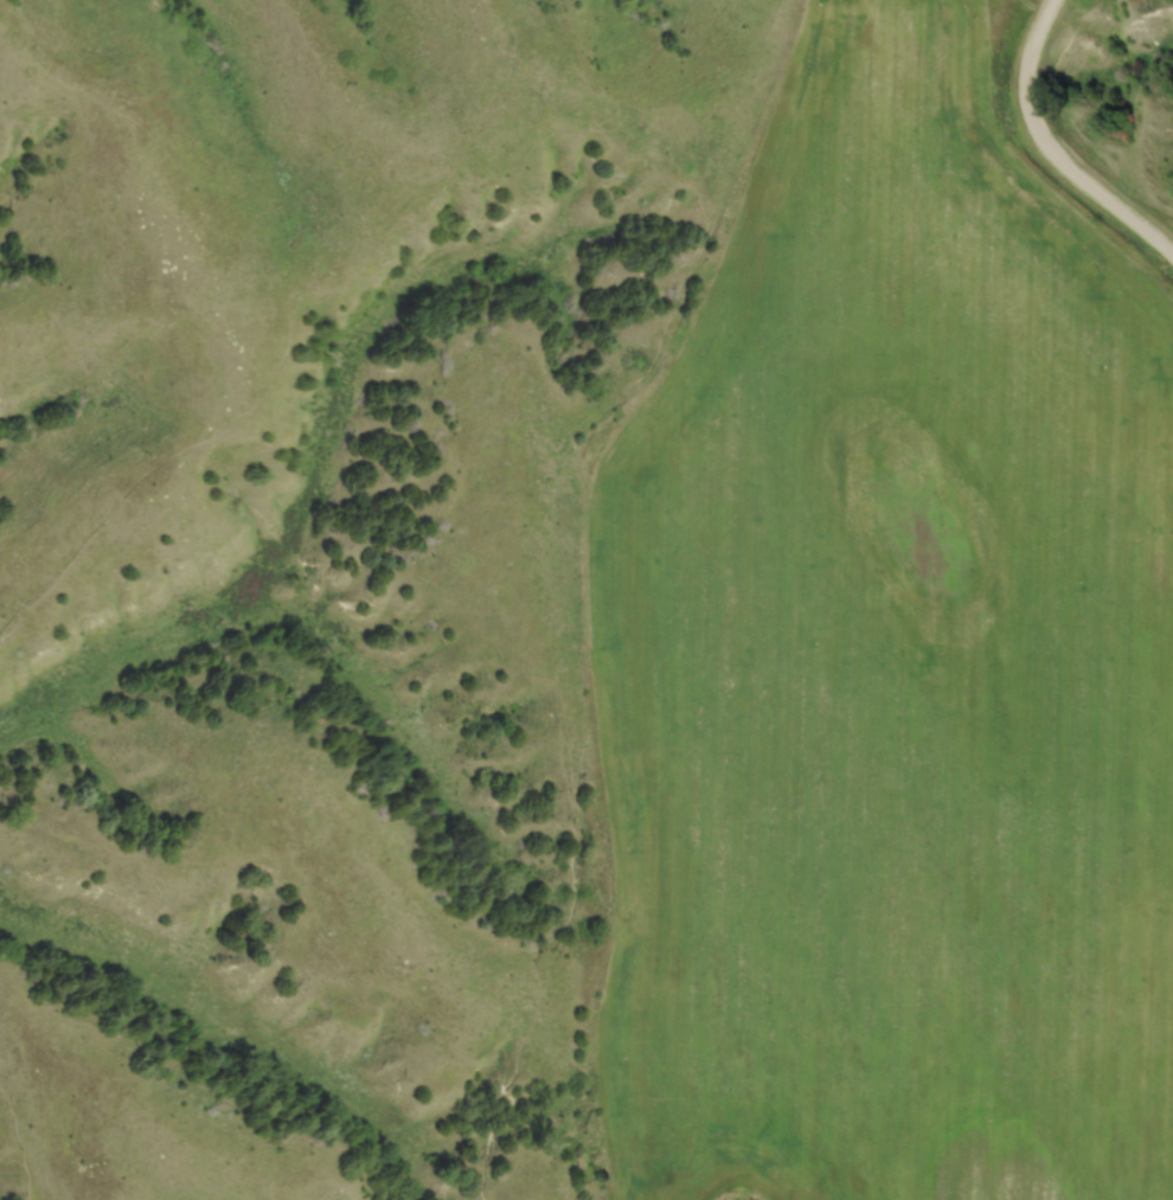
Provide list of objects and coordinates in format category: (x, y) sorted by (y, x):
road: (1051, 148)

